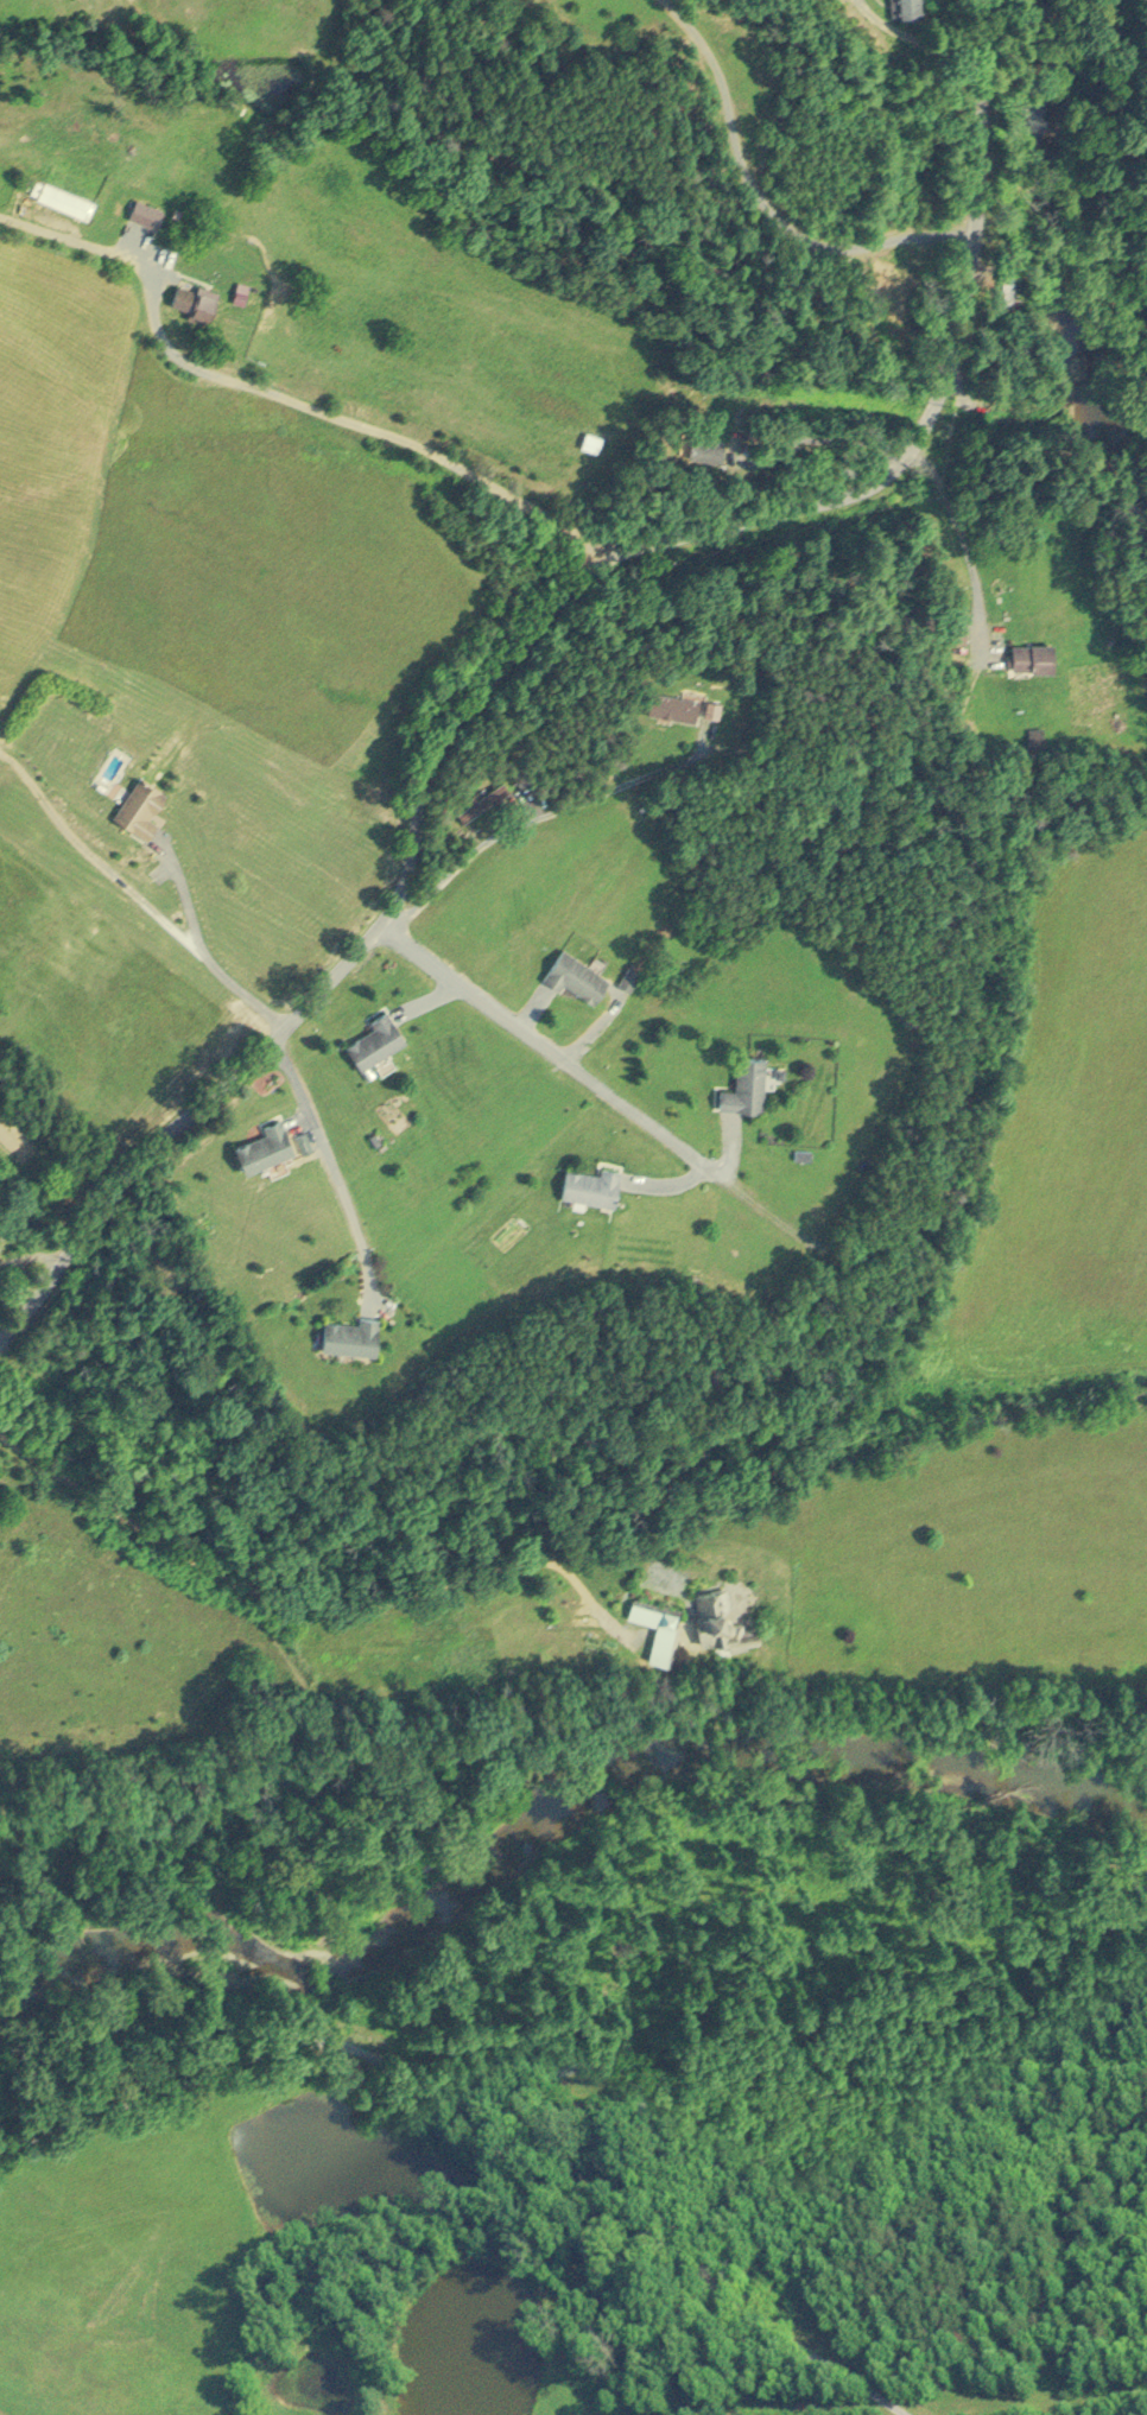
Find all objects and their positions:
building: (902, 7)
river: (1123, 32)
road: (765, 198)
building: (68, 199)
building: (148, 214)
road: (975, 233)
building: (1001, 283)
building: (196, 300)
road: (289, 405)
building: (708, 444)
road: (953, 528)
road: (623, 560)
building: (1037, 654)
building: (674, 704)
road: (632, 790)
building: (144, 805)
building: (473, 805)
road: (183, 898)
road: (137, 902)
building: (578, 972)
building: (379, 1038)
road: (546, 1054)
road: (239, 1078)
building: (748, 1084)
building: (267, 1145)
road: (331, 1170)
building: (592, 1183)
building: (4, 1225)
road: (841, 1249)
building: (353, 1333)
road: (318, 1610)
building: (659, 1625)
river: (549, 1807)
road: (528, 2087)

